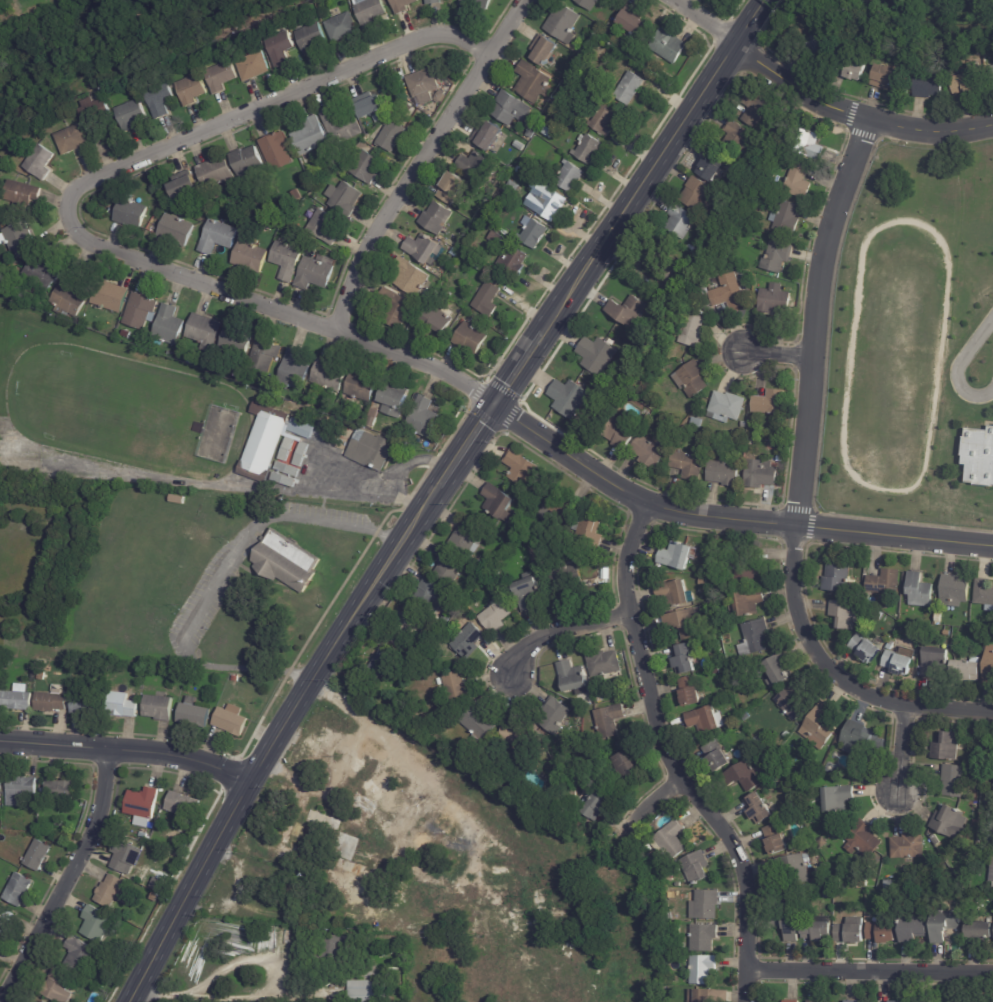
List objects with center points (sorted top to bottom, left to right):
building: (326, 0)
building: (434, 2)
building: (477, 4)
building: (590, 4)
building: (403, 5)
building: (370, 11)
road: (705, 20)
building: (634, 22)
building: (564, 25)
building: (342, 28)
building: (311, 39)
park: (102, 43)
building: (669, 46)
building: (280, 48)
building: (818, 48)
building: (548, 53)
building: (253, 67)
building: (853, 67)
building: (991, 72)
building: (889, 76)
building: (220, 77)
building: (970, 82)
building: (534, 83)
building: (932, 84)
building: (425, 86)
building: (191, 90)
building: (631, 90)
building: (908, 90)
building: (442, 97)
building: (159, 100)
building: (371, 107)
building: (758, 107)
building: (94, 109)
building: (511, 109)
road: (854, 115)
building: (582, 116)
building: (131, 117)
building: (605, 120)
building: (342, 128)
building: (531, 134)
building: (737, 136)
building: (392, 137)
building: (489, 137)
building: (312, 138)
building: (72, 141)
building: (808, 143)
building: (520, 147)
building: (590, 150)
building: (278, 152)
building: (342, 156)
building: (6, 160)
road: (420, 161)
building: (39, 162)
building: (714, 164)
building: (248, 165)
road: (653, 166)
building: (476, 167)
building: (367, 168)
building: (216, 173)
building: (333, 177)
building: (569, 177)
building: (314, 181)
building: (799, 181)
building: (185, 186)
building: (512, 188)
building: (454, 189)
building: (698, 191)
building: (23, 194)
building: (297, 196)
building: (345, 199)
building: (500, 199)
building: (547, 201)
road: (69, 214)
building: (131, 214)
building: (788, 217)
building: (436, 218)
building: (489, 218)
building: (683, 220)
building: (749, 220)
building: (325, 228)
building: (117, 230)
building: (177, 231)
building: (533, 233)
building: (218, 238)
building: (496, 238)
building: (19, 239)
building: (314, 248)
building: (423, 249)
building: (728, 254)
building: (778, 256)
building: (251, 257)
building: (287, 261)
building: (514, 262)
building: (661, 264)
building: (480, 267)
building: (41, 274)
building: (316, 275)
building: (411, 278)
building: (670, 292)
building: (447, 294)
building: (110, 296)
building: (427, 296)
building: (731, 296)
building: (70, 297)
building: (488, 301)
building: (776, 301)
building: (419, 306)
building: (140, 310)
building: (397, 310)
building: (628, 310)
building: (437, 322)
building: (169, 326)
building: (694, 330)
building: (205, 331)
building: (126, 335)
building: (50, 338)
building: (77, 339)
building: (470, 339)
building: (237, 342)
building: (103, 346)
track: (939, 351)
building: (128, 352)
building: (265, 354)
building: (171, 355)
building: (598, 355)
road: (777, 355)
building: (152, 359)
building: (191, 361)
road: (957, 367)
road: (522, 369)
building: (295, 371)
building: (331, 374)
building: (693, 379)
building: (361, 386)
building: (570, 397)
building: (394, 399)
building: (222, 401)
building: (772, 402)
traffic signals: (499, 404)
building: (729, 406)
road: (822, 411)
building: (373, 417)
building: (424, 417)
building: (699, 420)
road: (986, 422)
building: (621, 434)
building: (703, 439)
building: (270, 441)
road: (469, 445)
building: (288, 449)
building: (372, 449)
building: (651, 451)
building: (302, 455)
building: (978, 456)
road: (429, 461)
building: (691, 464)
building: (522, 467)
building: (288, 469)
building: (724, 473)
building: (762, 474)
road: (305, 476)
building: (285, 480)
road: (799, 481)
road: (395, 494)
building: (178, 499)
building: (500, 502)
building: (560, 509)
road: (730, 517)
building: (591, 532)
building: (467, 538)
building: (542, 547)
building: (680, 556)
building: (288, 561)
building: (524, 561)
building: (744, 564)
building: (450, 568)
building: (609, 571)
building: (706, 572)
building: (840, 575)
building: (505, 577)
road: (218, 578)
building: (607, 580)
building: (887, 582)
building: (566, 583)
building: (595, 583)
building: (920, 591)
building: (955, 591)
building: (529, 593)
building: (985, 593)
building: (678, 594)
building: (430, 595)
building: (749, 603)
building: (406, 612)
building: (497, 615)
building: (847, 615)
building: (472, 617)
building: (447, 619)
building: (939, 619)
building: (688, 623)
building: (431, 629)
road: (564, 629)
building: (957, 630)
building: (756, 638)
building: (469, 641)
building: (891, 645)
building: (866, 648)
building: (684, 659)
building: (724, 661)
building: (935, 661)
building: (604, 663)
building: (898, 663)
building: (382, 665)
building: (989, 666)
building: (967, 667)
building: (779, 671)
building: (42, 676)
building: (572, 676)
building: (235, 678)
building: (439, 682)
building: (457, 688)
building: (692, 693)
building: (599, 697)
building: (18, 699)
building: (794, 700)
building: (51, 702)
building: (87, 705)
building: (122, 706)
building: (159, 708)
building: (194, 714)
building: (555, 716)
building: (232, 721)
building: (707, 721)
building: (607, 722)
building: (479, 725)
building: (821, 727)
building: (518, 735)
building: (787, 735)
road: (276, 739)
building: (758, 740)
building: (861, 741)
building: (947, 747)
road: (903, 748)
road: (128, 750)
road: (396, 750)
building: (719, 757)
road: (671, 761)
building: (628, 768)
building: (749, 775)
building: (956, 781)
building: (0, 786)
road: (325, 788)
building: (61, 790)
building: (21, 791)
building: (839, 799)
road: (651, 802)
building: (366, 803)
building: (598, 804)
building: (144, 806)
building: (184, 806)
building: (760, 809)
building: (318, 816)
building: (336, 821)
building: (60, 823)
building: (347, 823)
building: (951, 823)
building: (143, 835)
building: (778, 840)
building: (864, 840)
building: (936, 840)
building: (671, 841)
building: (824, 844)
building: (909, 847)
building: (351, 848)
building: (38, 856)
building: (127, 858)
building: (697, 869)
building: (794, 870)
road: (68, 880)
building: (992, 880)
building: (832, 883)
building: (859, 884)
building: (159, 885)
building: (888, 885)
building: (19, 890)
building: (114, 892)
building: (156, 898)
building: (840, 899)
building: (706, 905)
building: (5, 917)
building: (788, 922)
building: (96, 924)
building: (946, 925)
building: (915, 929)
building: (819, 930)
building: (854, 931)
building: (979, 932)
building: (886, 934)
building: (703, 937)
building: (335, 945)
building: (1, 951)
building: (81, 956)
building: (702, 970)
road: (869, 974)
building: (671, 979)
road: (200, 984)
building: (59, 987)
building: (368, 991)
building: (702, 996)
building: (39, 1001)
building: (789, 1001)
building: (818, 1001)
building: (852, 1001)
building: (896, 1001)

